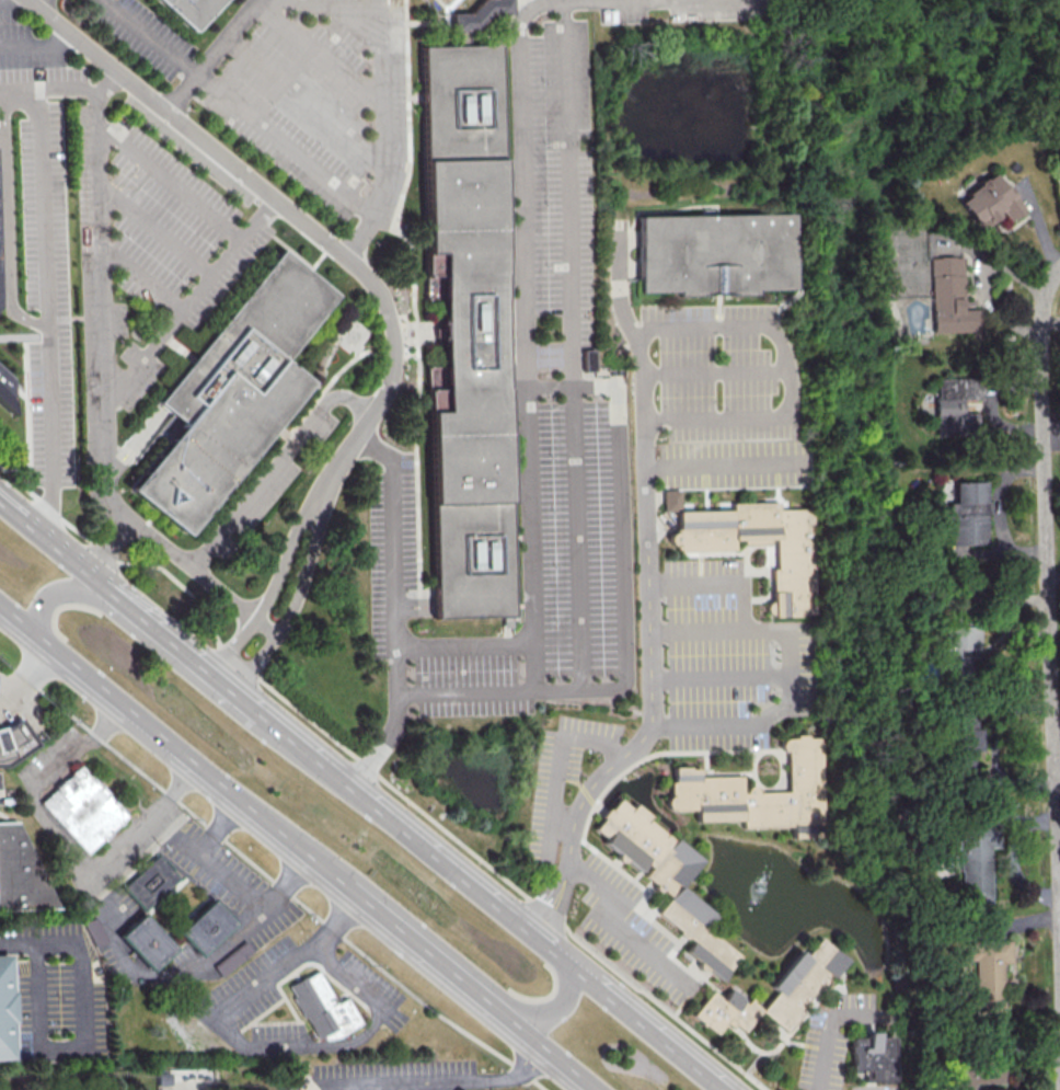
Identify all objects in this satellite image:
road: (379, 2)
road: (46, 5)
building: (186, 11)
building: (476, 18)
road: (36, 45)
road: (316, 55)
road: (209, 56)
road: (381, 64)
road: (46, 94)
road: (1042, 97)
road: (303, 99)
road: (255, 121)
road: (169, 180)
building: (988, 200)
road: (292, 214)
road: (7, 220)
road: (153, 229)
building: (712, 255)
road: (140, 277)
building: (948, 297)
road: (187, 298)
road: (42, 314)
road: (101, 330)
building: (463, 334)
building: (589, 359)
road: (714, 370)
road: (785, 374)
road: (525, 378)
building: (227, 394)
building: (3, 395)
building: (950, 410)
road: (724, 463)
road: (253, 496)
building: (968, 514)
road: (28, 525)
road: (576, 537)
building: (752, 540)
road: (163, 544)
road: (74, 563)
road: (273, 585)
road: (50, 594)
road: (648, 596)
road: (293, 598)
road: (392, 611)
road: (1048, 621)
road: (698, 629)
road: (171, 640)
road: (463, 644)
road: (788, 649)
road: (719, 676)
road: (28, 681)
road: (556, 688)
road: (10, 701)
building: (14, 742)
building: (963, 743)
road: (177, 753)
road: (563, 759)
road: (372, 771)
building: (758, 793)
building: (81, 812)
road: (62, 844)
building: (971, 856)
building: (20, 875)
road: (270, 876)
building: (667, 880)
building: (149, 883)
road: (233, 885)
road: (485, 897)
road: (617, 929)
building: (204, 930)
road: (19, 943)
building: (142, 944)
road: (428, 953)
road: (168, 973)
building: (988, 973)
building: (795, 986)
building: (322, 1009)
road: (549, 1009)
building: (3, 1014)
road: (831, 1037)
road: (253, 1048)
road: (81, 1052)
road: (545, 1052)
building: (872, 1058)
building: (976, 1072)
road: (438, 1083)

